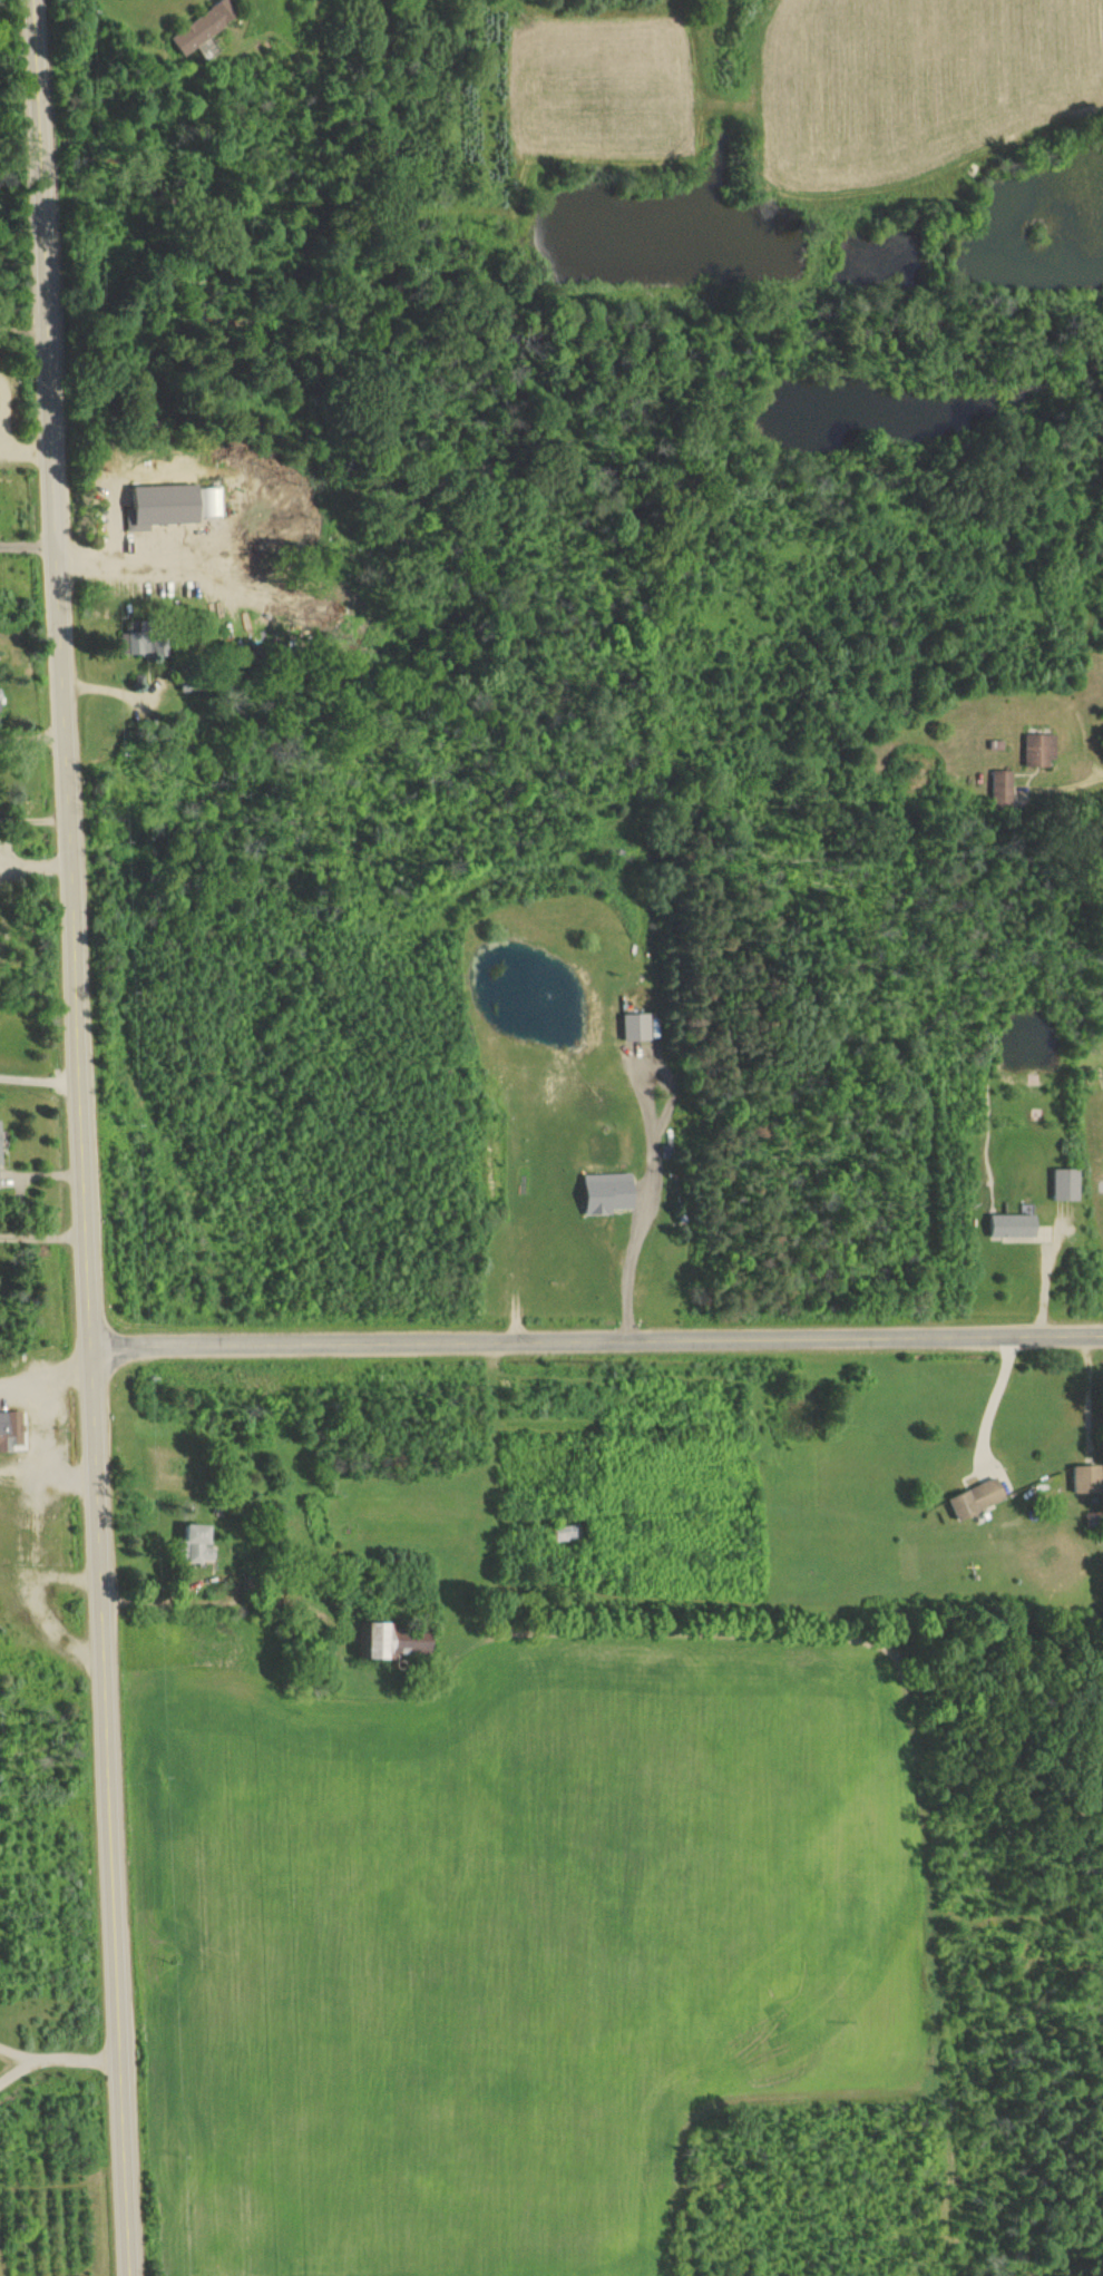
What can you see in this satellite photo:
building: (203, 28)
road: (23, 332)
road: (0, 413)
road: (26, 438)
building: (169, 505)
road: (28, 536)
road: (110, 566)
building: (145, 643)
road: (32, 736)
building: (1037, 750)
building: (999, 788)
road: (33, 819)
building: (635, 1026)
road: (925, 1037)
road: (39, 1073)
road: (81, 1137)
building: (1064, 1184)
building: (605, 1192)
road: (638, 1202)
building: (1011, 1225)
road: (42, 1233)
road: (596, 1339)
road: (46, 1367)
road: (999, 1390)
building: (9, 1429)
road: (64, 1463)
road: (17, 1465)
building: (1085, 1478)
building: (975, 1498)
road: (23, 1532)
building: (195, 1544)
road: (62, 1566)
building: (396, 1641)
crop: (502, 1945)
road: (16, 2053)
road: (57, 2055)

